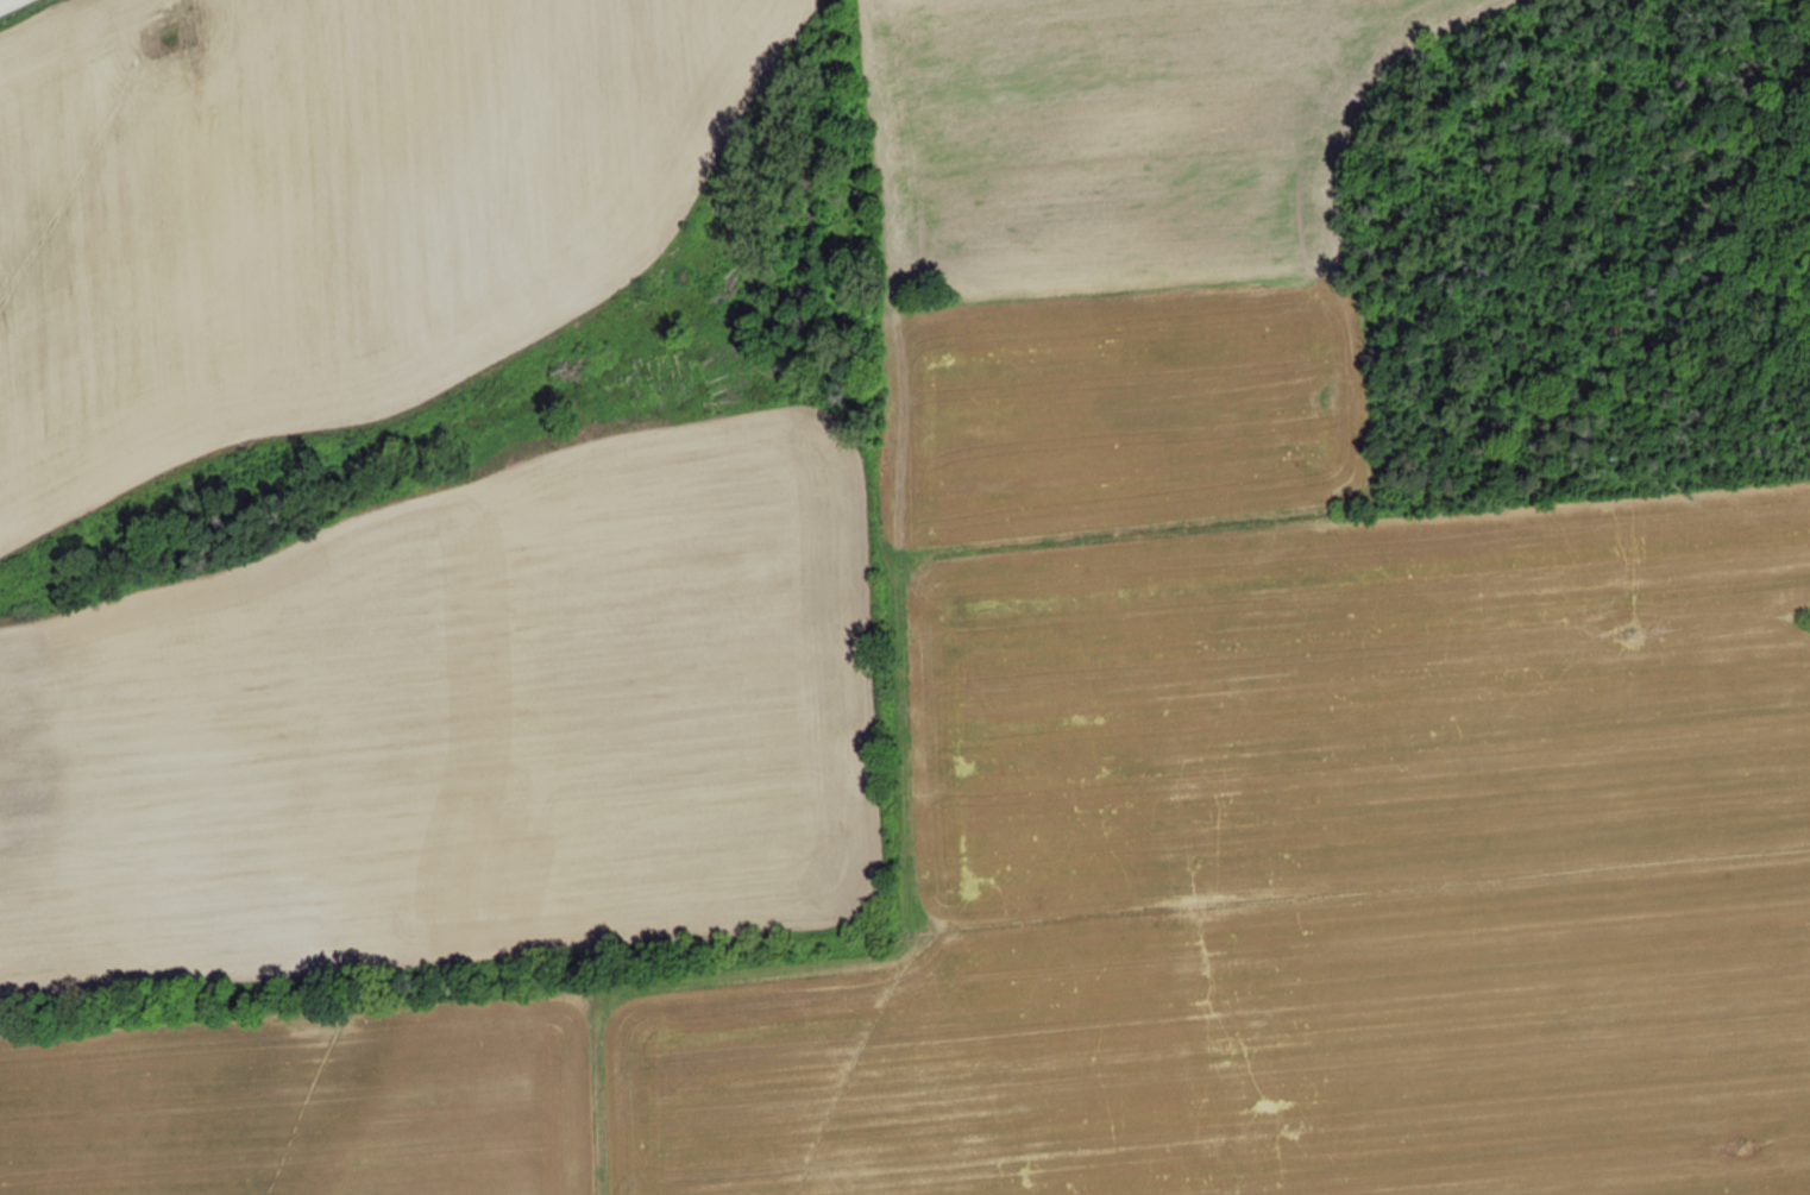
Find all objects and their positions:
road: (14, 6)

